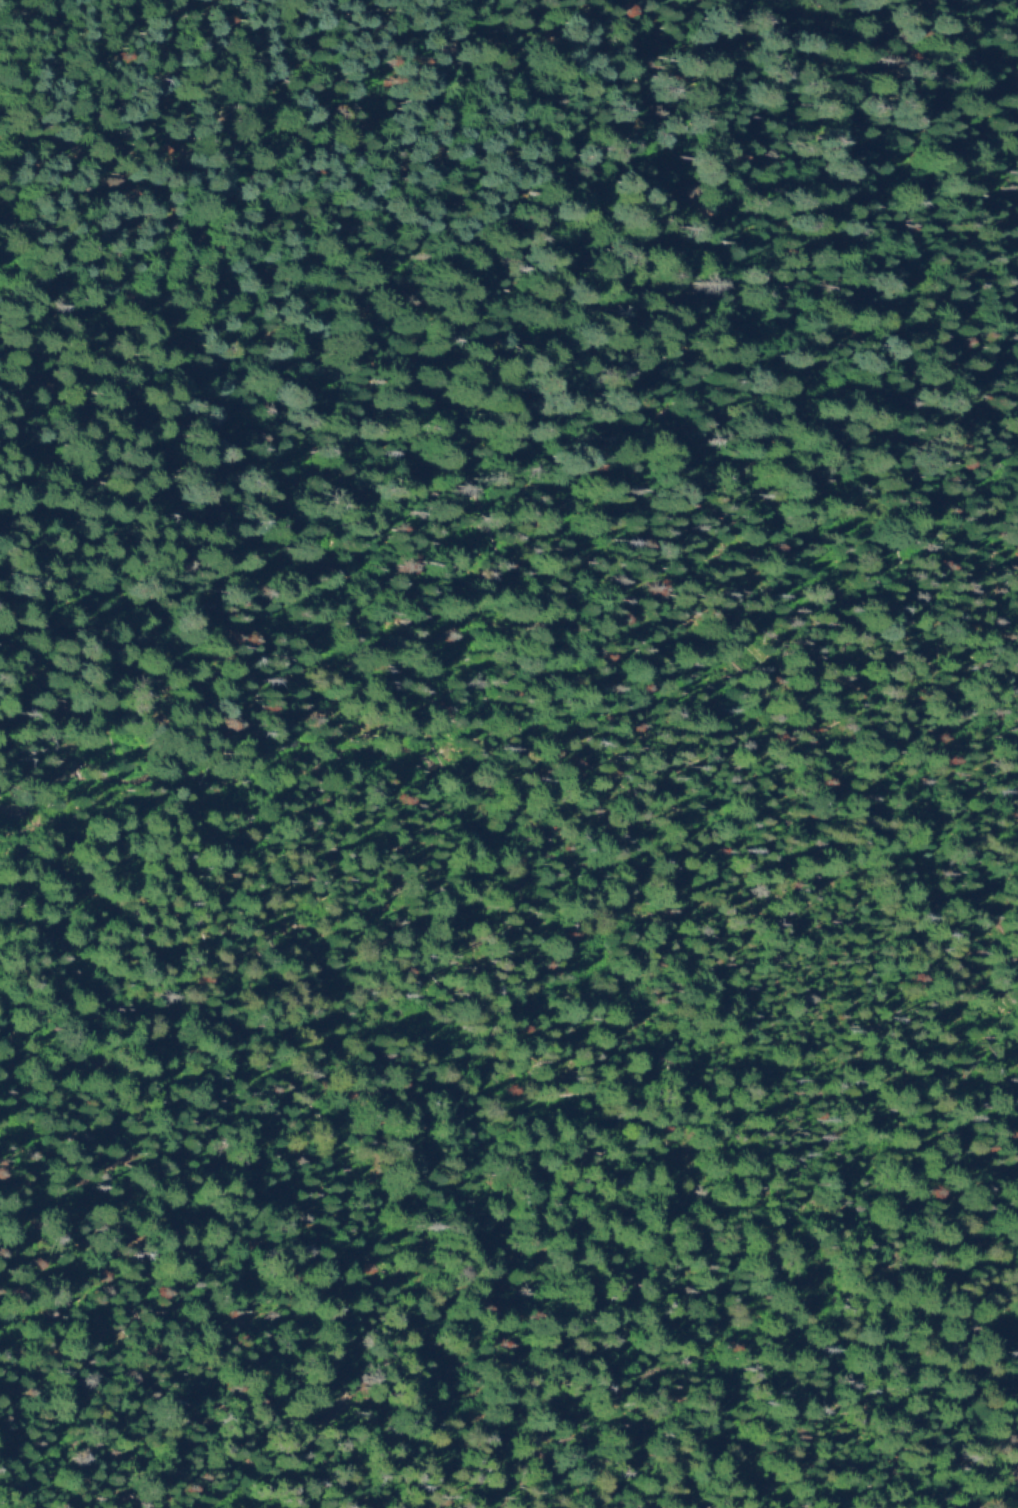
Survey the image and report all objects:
road: (485, 445)

